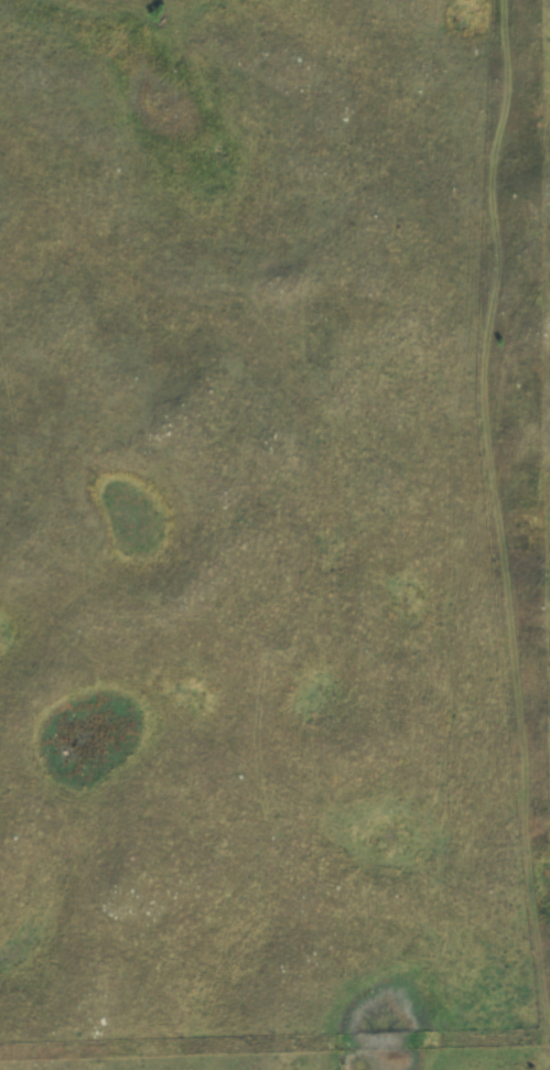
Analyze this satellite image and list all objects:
road: (274, 1060)

